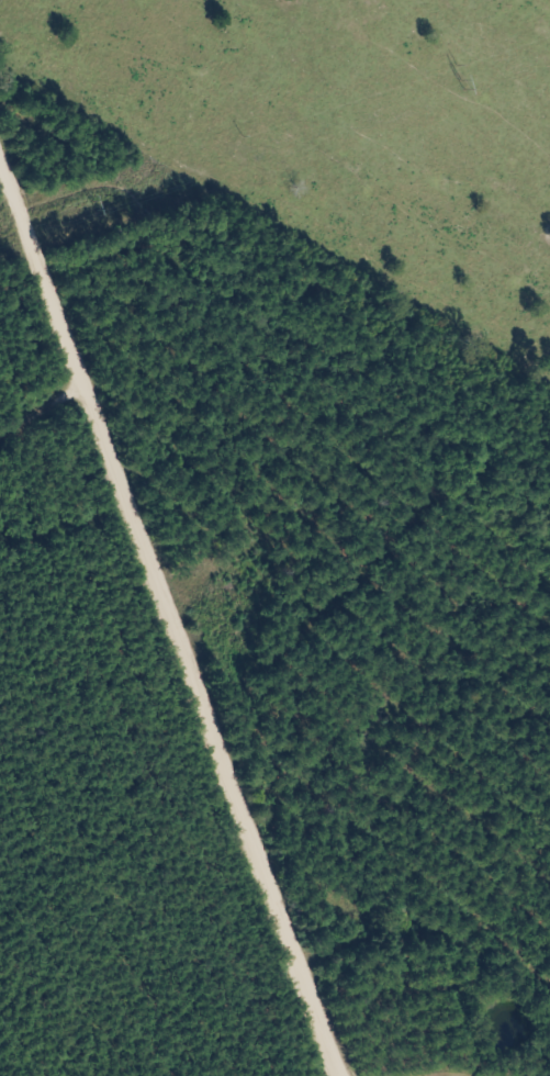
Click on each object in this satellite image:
power tower: (457, 85)
power tower: (89, 203)
road: (45, 487)
road: (158, 641)

